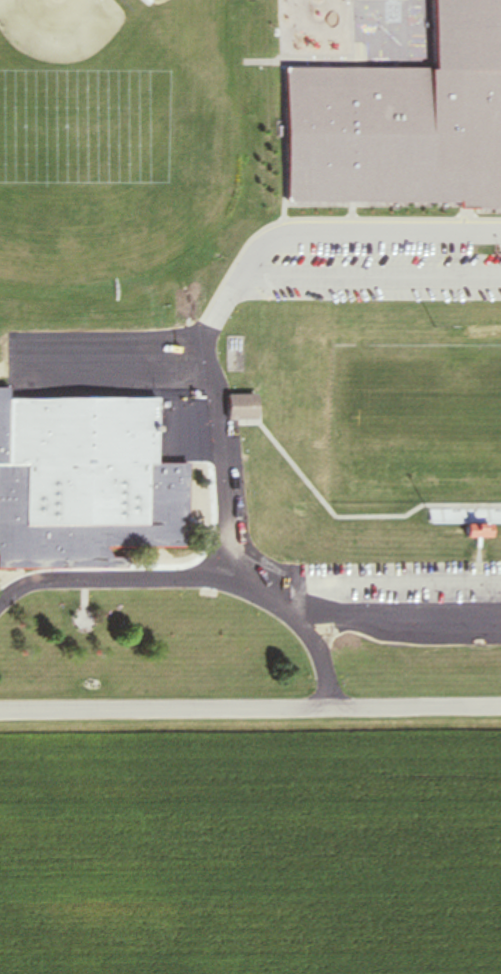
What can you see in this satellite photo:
park: (90, 95)
building: (403, 123)
parking lot: (380, 271)
road: (367, 281)
road: (228, 288)
building: (477, 331)
parking lot: (103, 367)
building: (245, 405)
park: (416, 423)
parking lot: (237, 477)
building: (89, 481)
road: (334, 514)
building: (483, 531)
road: (200, 577)
road: (378, 584)
parking lot: (400, 598)
flagpole: (86, 619)
road: (399, 620)
road: (250, 710)

